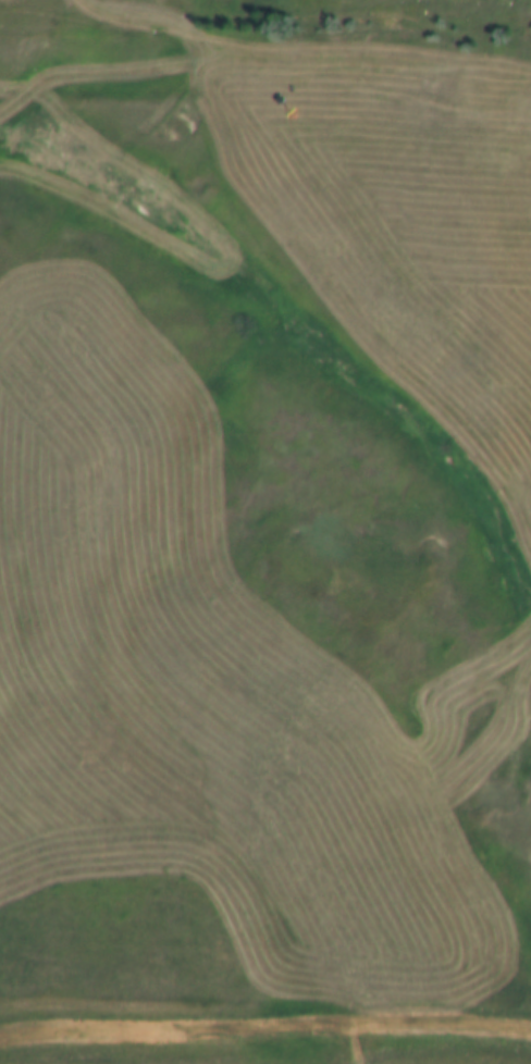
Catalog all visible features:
road: (264, 1027)

